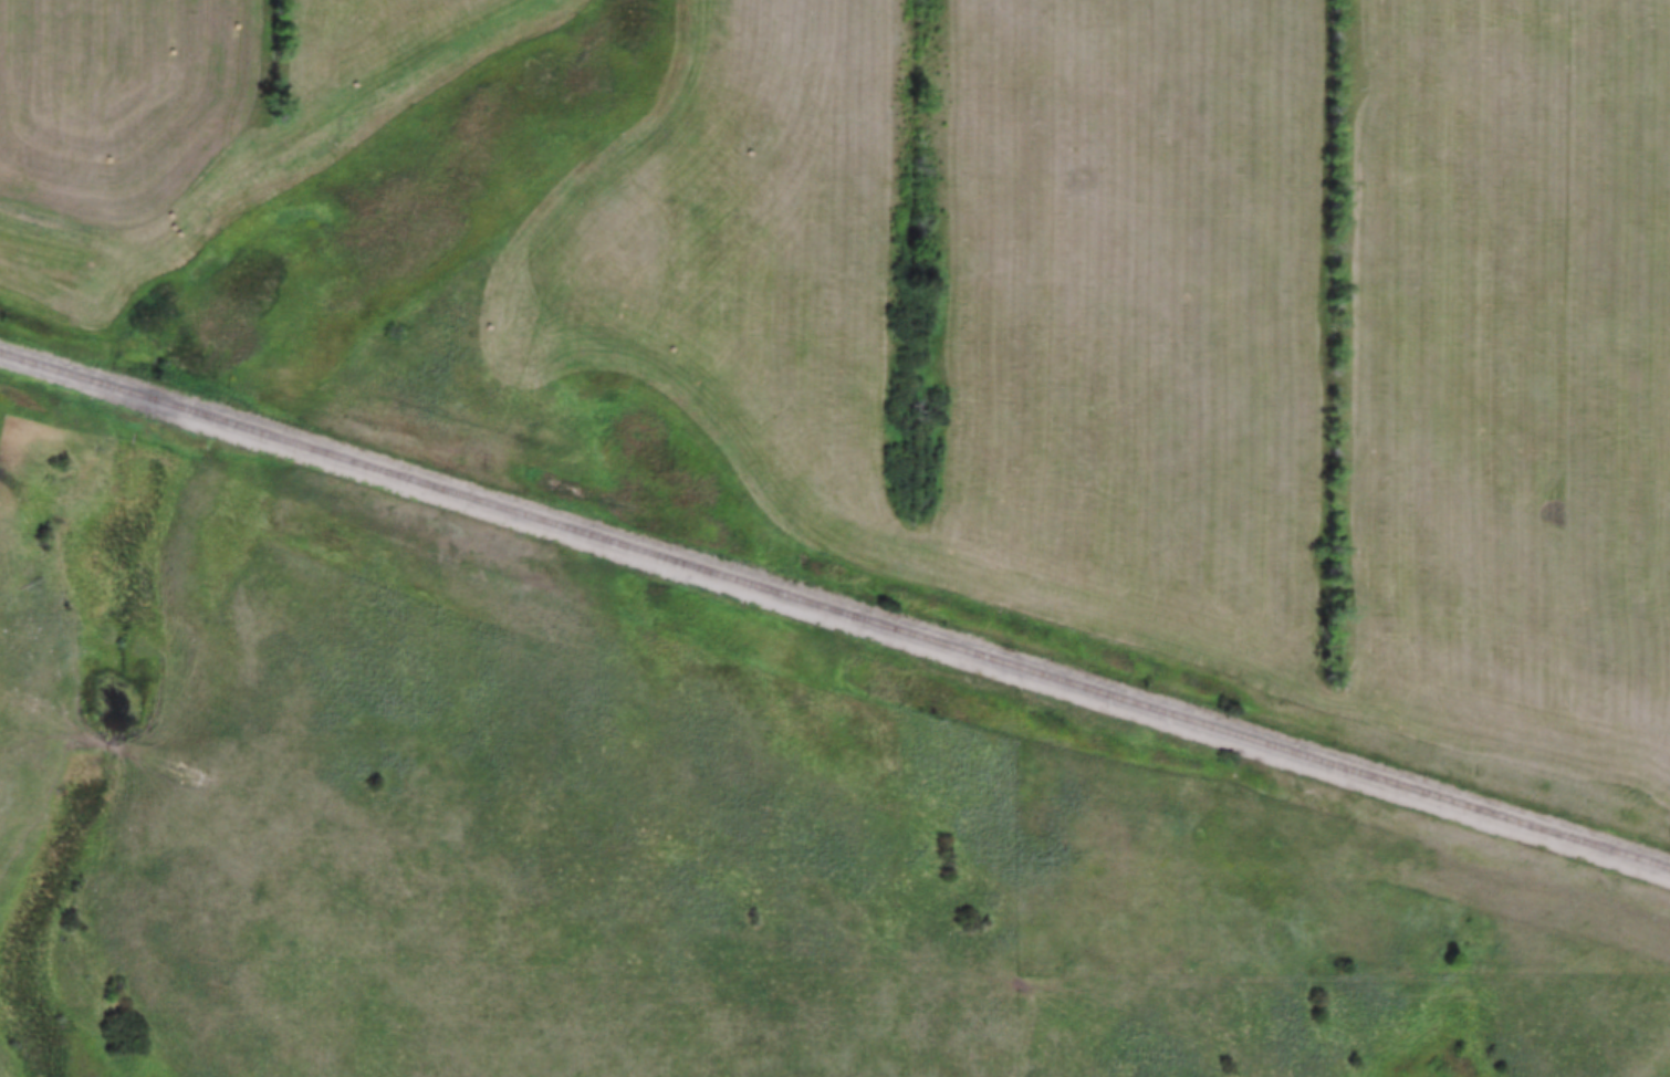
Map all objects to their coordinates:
railway: (834, 611)

